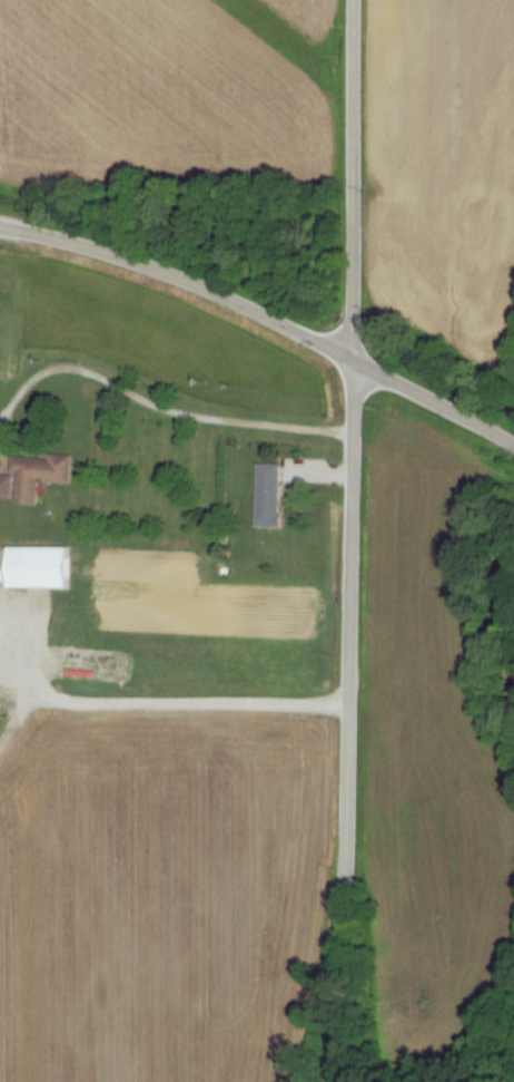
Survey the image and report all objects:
crop: (300, 22)
crop: (156, 100)
crop: (446, 164)
road: (354, 179)
road: (264, 315)
road: (164, 404)
building: (45, 476)
building: (9, 487)
building: (275, 496)
building: (45, 568)
road: (162, 701)
road: (348, 721)

